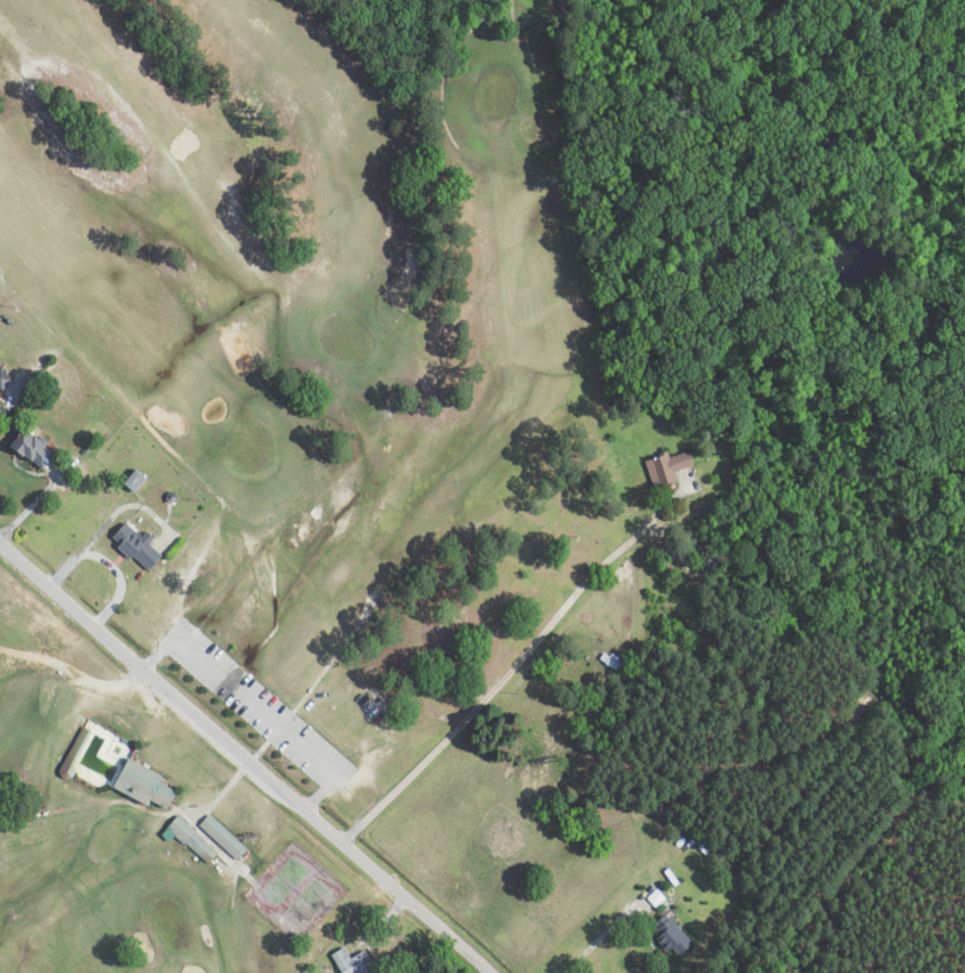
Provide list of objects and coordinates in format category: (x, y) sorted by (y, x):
building: (3, 379)
building: (32, 449)
building: (669, 467)
building: (133, 480)
building: (136, 546)
building: (610, 661)
road: (263, 740)
building: (75, 752)
building: (140, 785)
building: (223, 837)
building: (192, 840)
building: (672, 935)
building: (355, 962)

